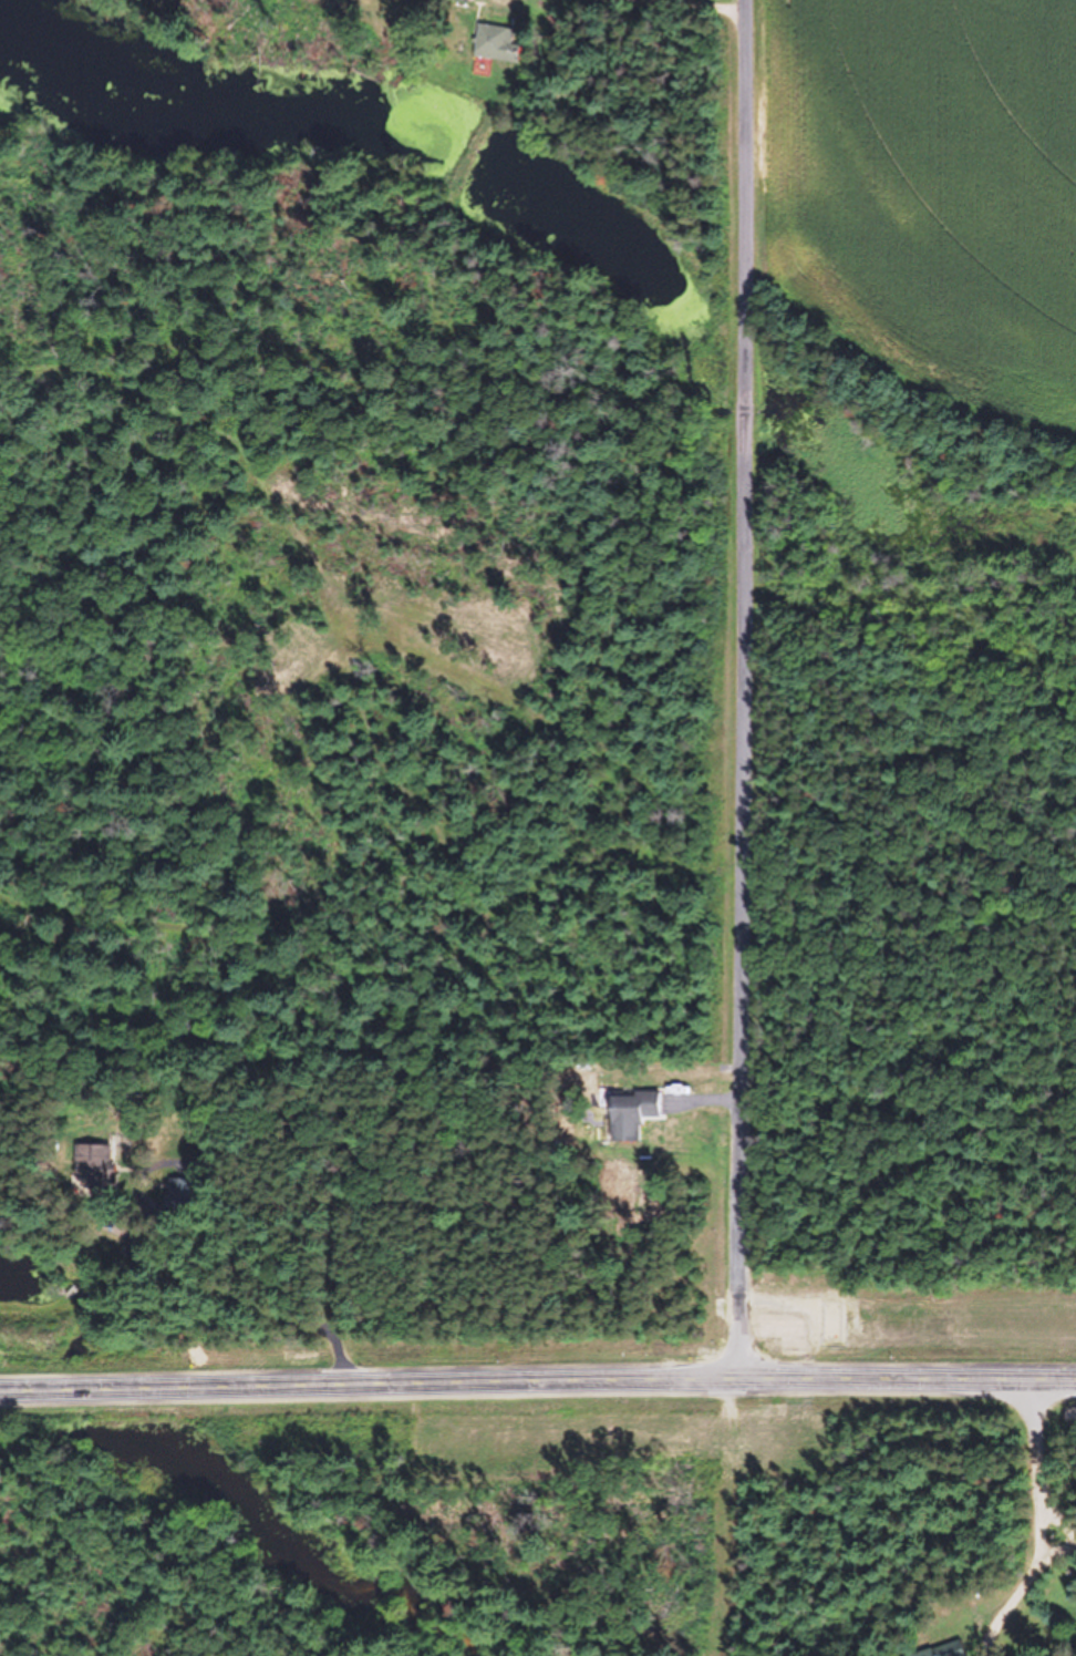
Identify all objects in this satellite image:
building: (453, 2)
road: (311, 14)
road: (633, 38)
building: (489, 44)
road: (743, 692)
building: (628, 1118)
building: (95, 1169)
road: (569, 1253)
road: (537, 1387)
road: (1026, 1523)
road: (1045, 1603)
building: (1075, 1612)
building: (948, 1652)

